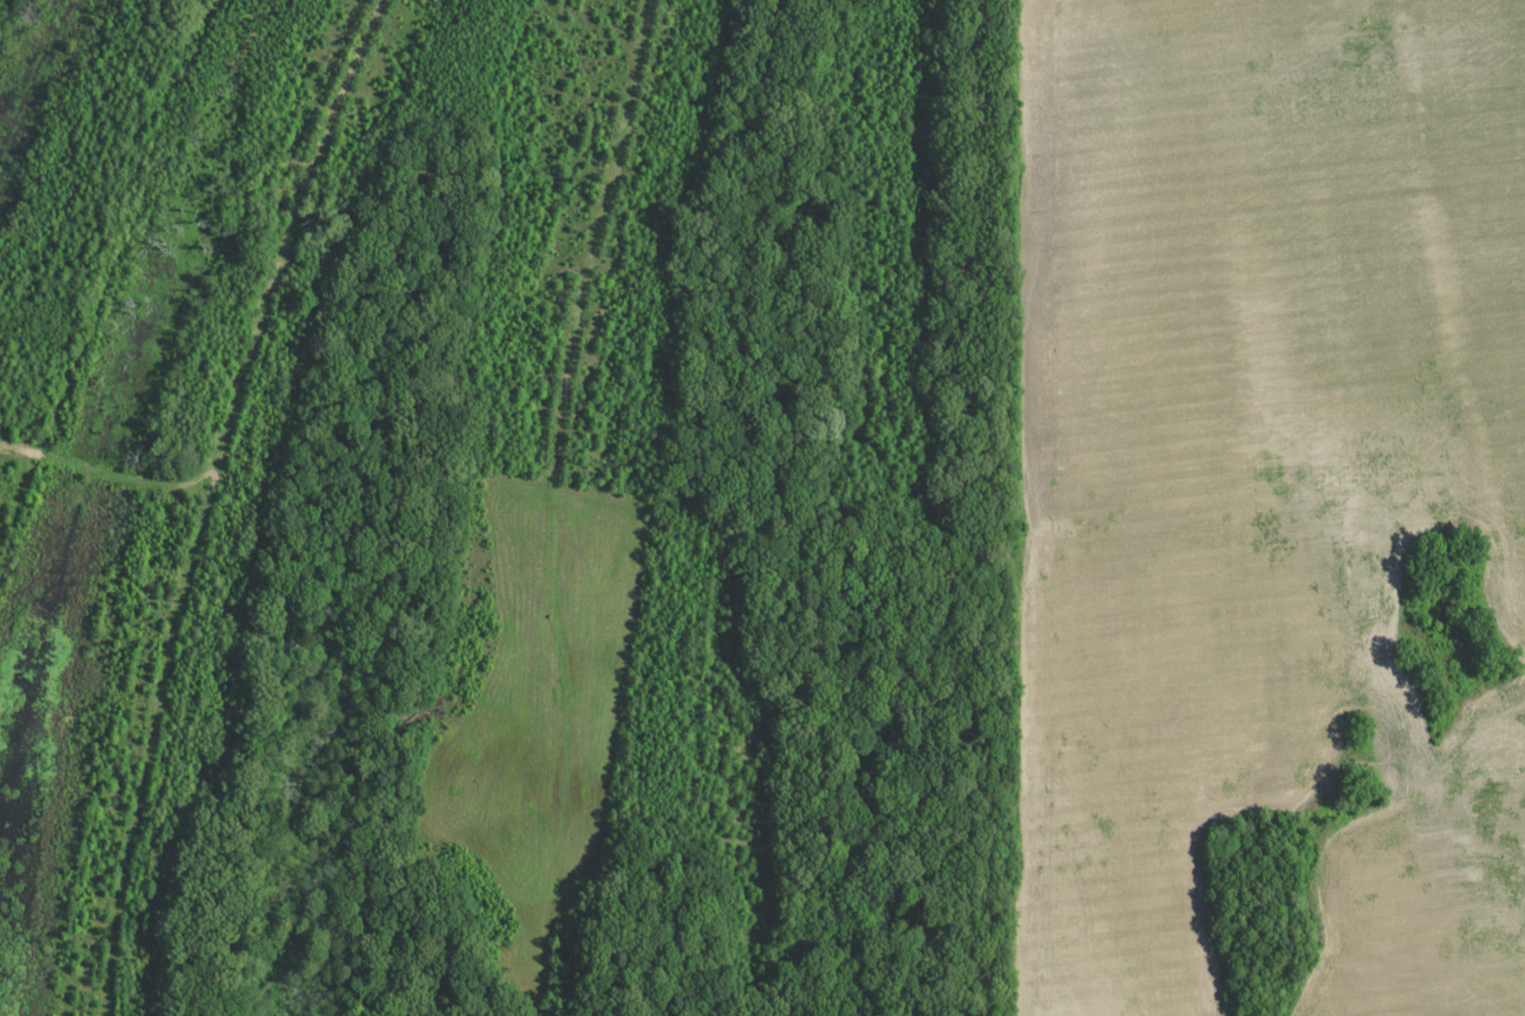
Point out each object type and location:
road: (1449, 333)

